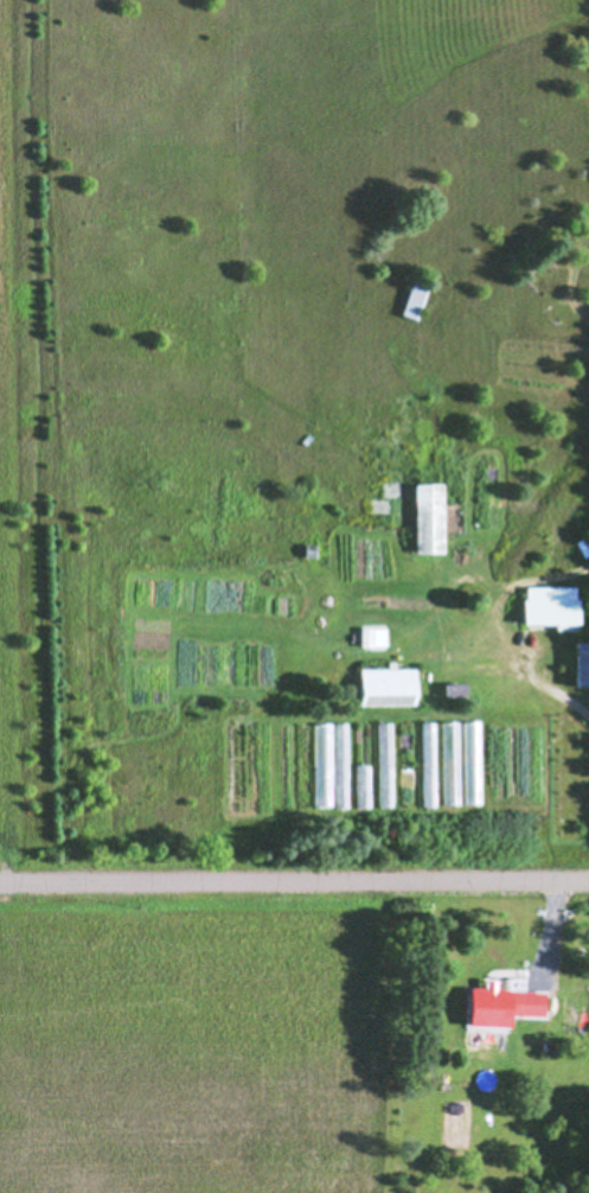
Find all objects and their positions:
building: (412, 299)
building: (427, 516)
building: (361, 547)
building: (550, 605)
building: (581, 662)
building: (385, 685)
building: (453, 688)
road: (574, 702)
building: (448, 741)
building: (469, 761)
building: (302, 763)
building: (320, 763)
building: (427, 763)
building: (339, 764)
building: (360, 764)
building: (383, 764)
road: (294, 878)
building: (505, 1001)

